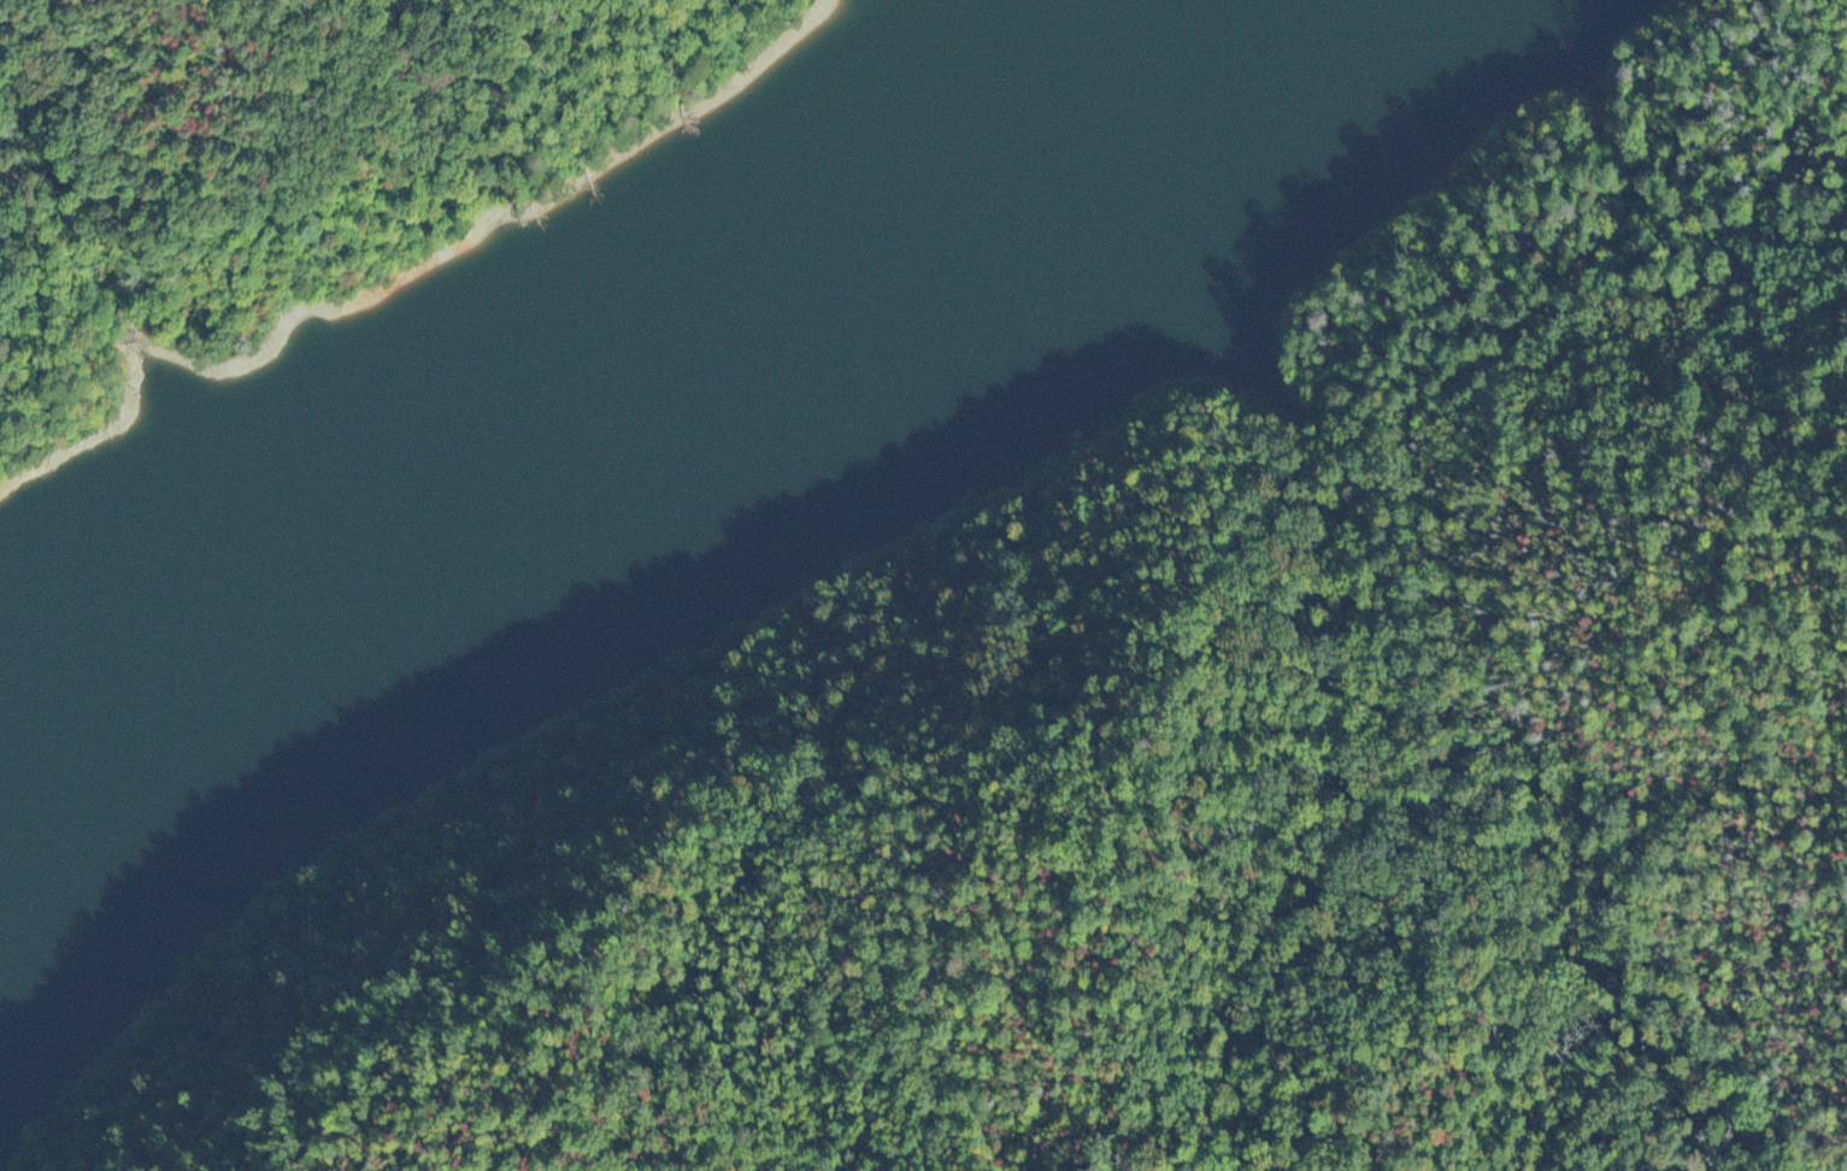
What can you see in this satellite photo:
river: (625, 408)

